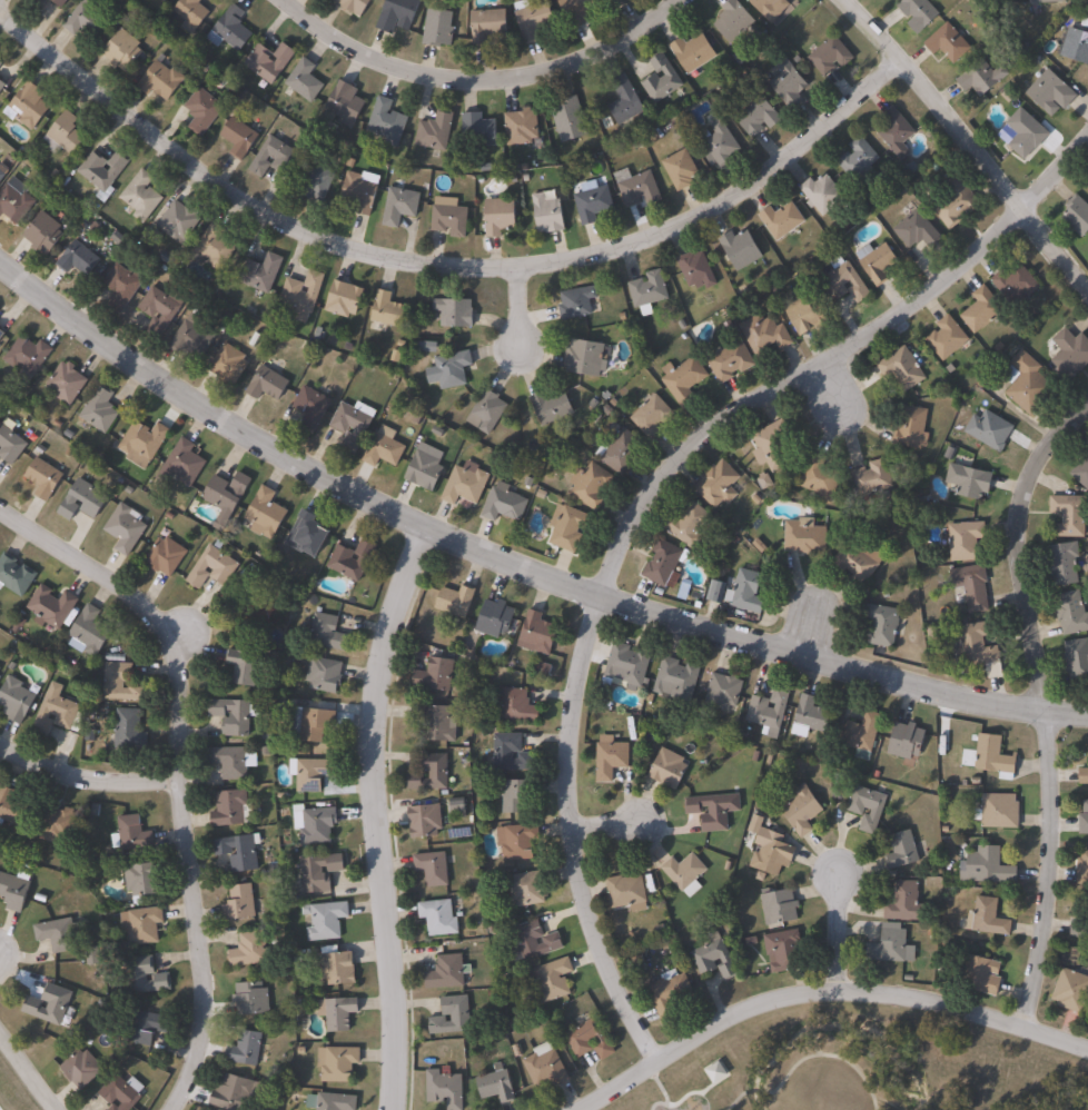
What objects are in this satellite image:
building: (164, 0)
building: (39, 1)
building: (1046, 1)
building: (60, 2)
building: (619, 3)
building: (355, 6)
building: (773, 8)
building: (578, 10)
building: (191, 12)
building: (919, 13)
building: (397, 14)
building: (87, 18)
building: (532, 18)
building: (734, 20)
building: (487, 27)
building: (438, 28)
building: (230, 29)
building: (949, 42)
building: (1077, 43)
building: (122, 49)
building: (694, 51)
building: (831, 54)
building: (269, 60)
building: (1, 62)
road: (474, 73)
building: (217, 77)
building: (983, 77)
building: (305, 79)
building: (662, 79)
building: (161, 80)
building: (790, 82)
building: (2, 83)
building: (1052, 90)
building: (626, 100)
building: (346, 102)
building: (30, 105)
building: (204, 110)
building: (759, 116)
building: (571, 118)
building: (387, 121)
building: (523, 127)
building: (478, 129)
building: (436, 130)
building: (897, 130)
building: (1028, 132)
building: (63, 133)
building: (239, 136)
road: (972, 139)
building: (721, 141)
building: (274, 156)
building: (859, 158)
building: (681, 168)
building: (103, 171)
building: (2, 175)
building: (317, 181)
building: (637, 187)
building: (360, 190)
building: (824, 192)
building: (141, 195)
building: (957, 199)
building: (593, 201)
building: (16, 202)
building: (400, 204)
building: (548, 214)
building: (1078, 215)
building: (500, 216)
building: (783, 219)
building: (179, 220)
building: (451, 220)
building: (919, 229)
building: (43, 232)
building: (214, 247)
building: (741, 248)
building: (78, 257)
building: (878, 260)
road: (445, 267)
building: (698, 269)
building: (261, 272)
building: (847, 280)
building: (1017, 283)
building: (122, 284)
building: (649, 288)
building: (303, 295)
building: (345, 298)
building: (577, 301)
road: (522, 306)
building: (161, 308)
building: (983, 308)
building: (390, 310)
building: (455, 310)
building: (807, 314)
building: (1, 333)
building: (766, 333)
building: (192, 336)
building: (948, 337)
building: (1071, 350)
building: (28, 354)
building: (585, 357)
building: (732, 360)
building: (228, 363)
building: (451, 369)
building: (903, 369)
building: (684, 379)
building: (1028, 381)
building: (67, 383)
building: (267, 383)
road: (831, 385)
building: (552, 406)
building: (311, 407)
building: (100, 408)
building: (487, 410)
building: (653, 416)
building: (352, 425)
building: (913, 427)
building: (990, 429)
building: (144, 443)
building: (10, 444)
building: (773, 445)
building: (384, 448)
building: (622, 450)
building: (1087, 450)
building: (182, 464)
building: (425, 469)
building: (1081, 472)
building: (43, 477)
building: (821, 477)
building: (872, 478)
building: (971, 480)
building: (466, 483)
building: (720, 484)
building: (591, 485)
building: (227, 492)
building: (82, 501)
building: (505, 503)
road: (642, 506)
building: (266, 513)
building: (1071, 515)
building: (691, 524)
building: (568, 527)
building: (126, 528)
building: (307, 534)
building: (805, 536)
building: (967, 541)
building: (166, 556)
road: (513, 557)
building: (352, 561)
building: (860, 561)
building: (663, 563)
building: (1066, 563)
building: (212, 567)
building: (16, 575)
building: (972, 587)
building: (742, 592)
building: (455, 601)
building: (52, 606)
building: (1074, 611)
building: (251, 616)
building: (496, 618)
building: (882, 625)
building: (91, 631)
building: (328, 633)
building: (538, 633)
building: (981, 650)
building: (1077, 660)
building: (629, 665)
building: (244, 666)
building: (325, 674)
building: (436, 675)
building: (677, 680)
building: (121, 683)
building: (725, 691)
building: (16, 700)
road: (1044, 704)
building: (518, 706)
building: (771, 711)
building: (57, 713)
building: (234, 715)
building: (810, 717)
building: (437, 722)
building: (311, 724)
building: (129, 730)
building: (863, 734)
building: (908, 741)
building: (513, 753)
building: (996, 756)
building: (612, 757)
building: (230, 762)
road: (176, 766)
building: (669, 769)
building: (313, 773)
building: (433, 773)
building: (1085, 775)
road: (85, 780)
building: (515, 795)
building: (10, 806)
building: (1086, 806)
building: (868, 807)
building: (230, 809)
building: (802, 809)
building: (714, 811)
building: (1000, 812)
road: (382, 814)
building: (426, 821)
building: (315, 824)
building: (1085, 824)
building: (58, 825)
road: (607, 830)
building: (131, 834)
building: (518, 841)
building: (902, 851)
building: (239, 852)
building: (772, 855)
building: (989, 868)
building: (433, 869)
building: (1084, 870)
building: (685, 871)
building: (320, 872)
building: (141, 881)
building: (527, 889)
building: (13, 891)
building: (626, 891)
building: (239, 903)
building: (907, 903)
building: (780, 906)
building: (438, 918)
building: (989, 919)
building: (326, 920)
building: (142, 925)
road: (840, 931)
building: (1080, 934)
building: (60, 935)
building: (534, 942)
building: (892, 948)
building: (249, 950)
building: (785, 951)
building: (92, 955)
building: (714, 958)
building: (338, 967)
building: (447, 973)
building: (981, 975)
building: (146, 977)
building: (550, 981)
building: (1071, 991)
road: (821, 992)
building: (671, 993)
building: (251, 998)
building: (49, 1004)
building: (338, 1013)
building: (452, 1017)
building: (147, 1028)
building: (590, 1040)
building: (247, 1048)
road: (824, 1057)
building: (339, 1063)
building: (545, 1064)
park: (860, 1067)
building: (81, 1069)
road: (29, 1070)
building: (713, 1071)
park: (22, 1082)
building: (496, 1086)
building: (445, 1089)
road: (751, 1091)
building: (234, 1092)
road: (686, 1092)
building: (119, 1093)
road: (661, 1094)
road: (733, 1100)
building: (336, 1101)

